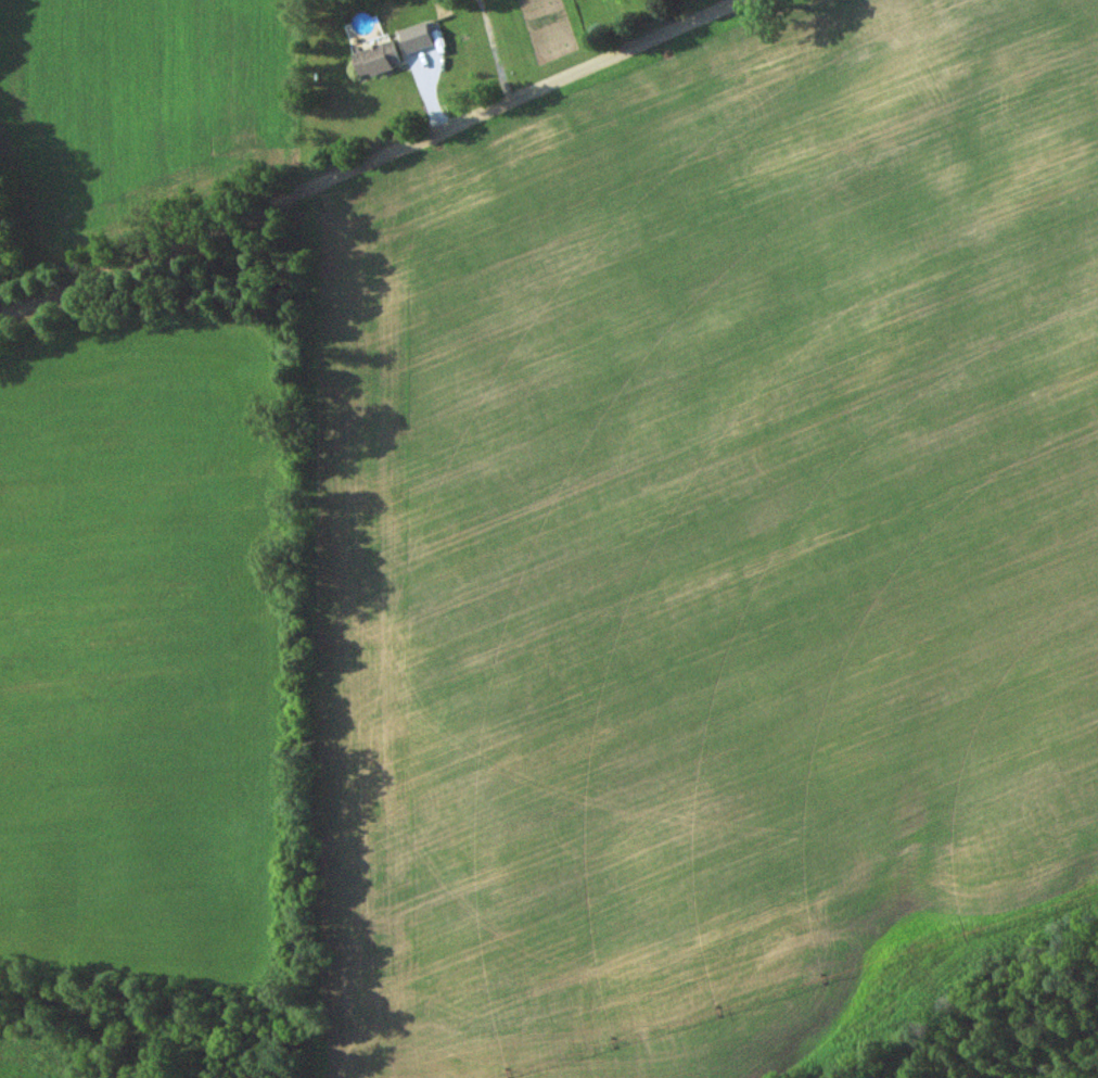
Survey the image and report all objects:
road: (746, 0)
building: (378, 60)
road: (374, 158)

